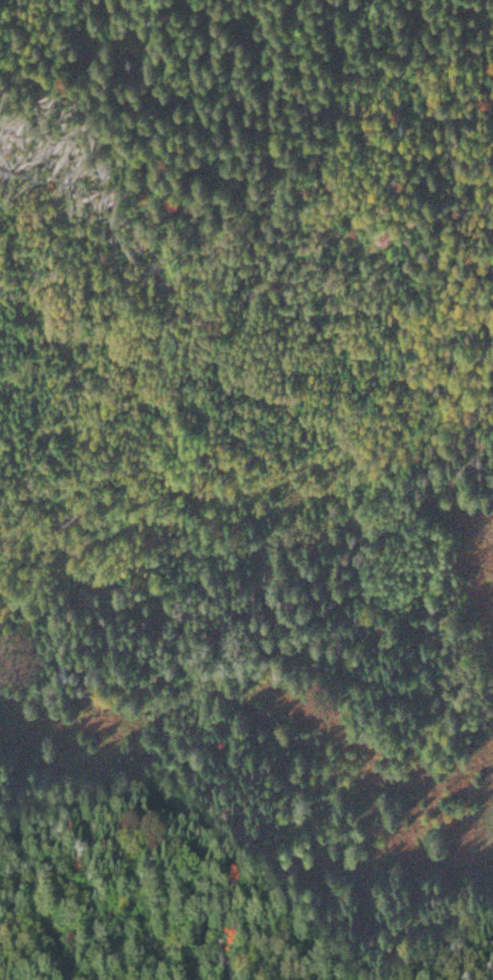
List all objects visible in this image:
road: (471, 10)
road: (13, 977)

